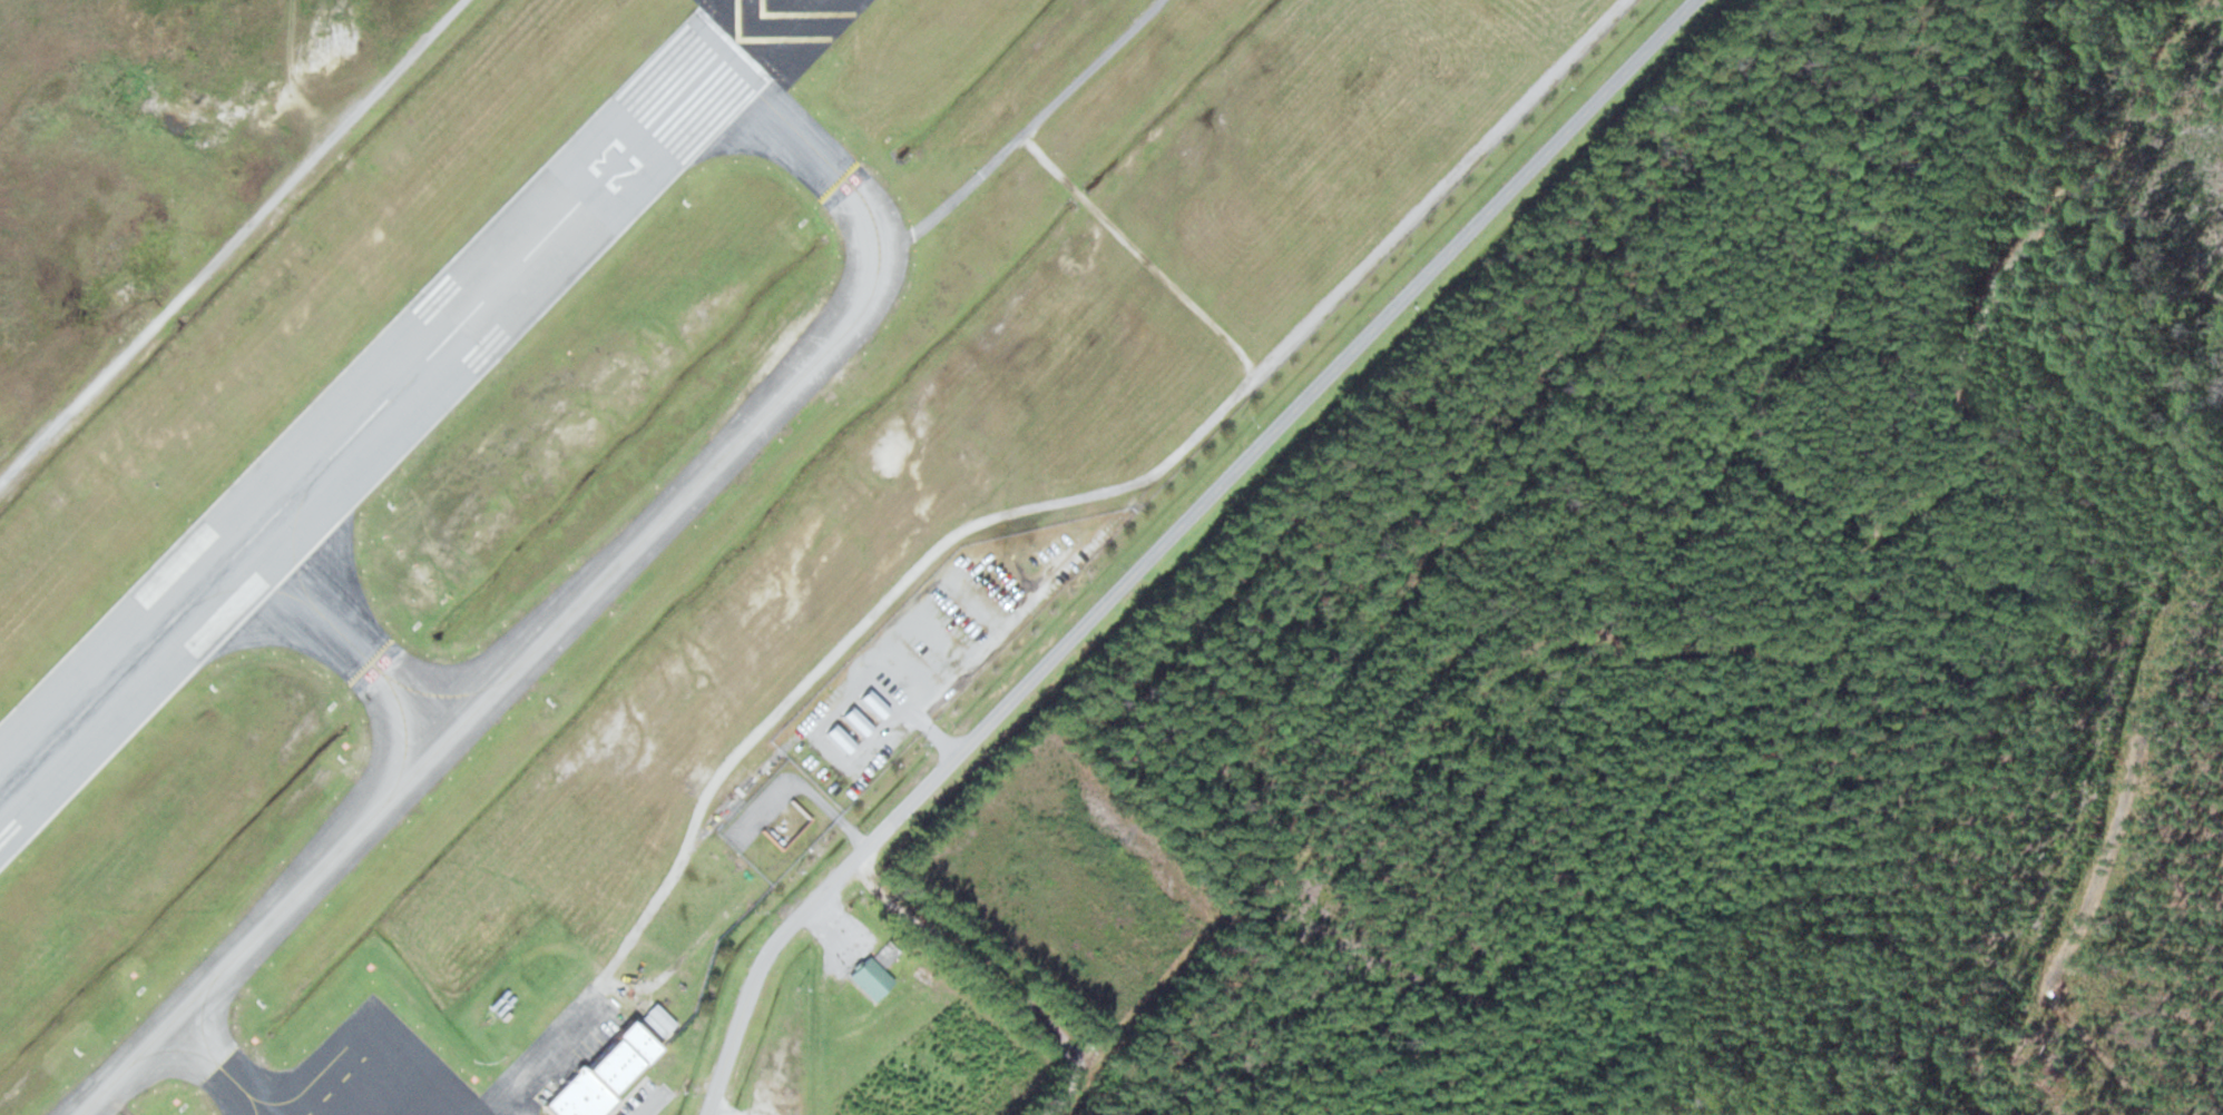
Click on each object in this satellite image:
road: (1093, 67)
road: (296, 73)
airport taxiway: (803, 135)
road: (953, 197)
road: (233, 240)
road: (1142, 253)
airport runway: (368, 418)
airport: (627, 477)
road: (1094, 493)
road: (1169, 537)
airport taxiway: (321, 612)
airport taxiway: (350, 641)
airport taxiway: (497, 687)
airport taxiway: (443, 694)
building: (873, 703)
building: (856, 720)
building: (840, 737)
airport taxiway: (404, 738)
road: (943, 739)
road: (852, 831)
building: (871, 977)
road: (1005, 980)
building: (658, 1019)
road: (542, 1045)
airport taxiway: (214, 1057)
airport apron: (372, 1074)
building: (601, 1075)
airport taxiway: (232, 1076)
road: (628, 1095)
airport taxiway: (294, 1096)
road: (617, 1097)
parking lot: (647, 1098)
road: (609, 1109)

